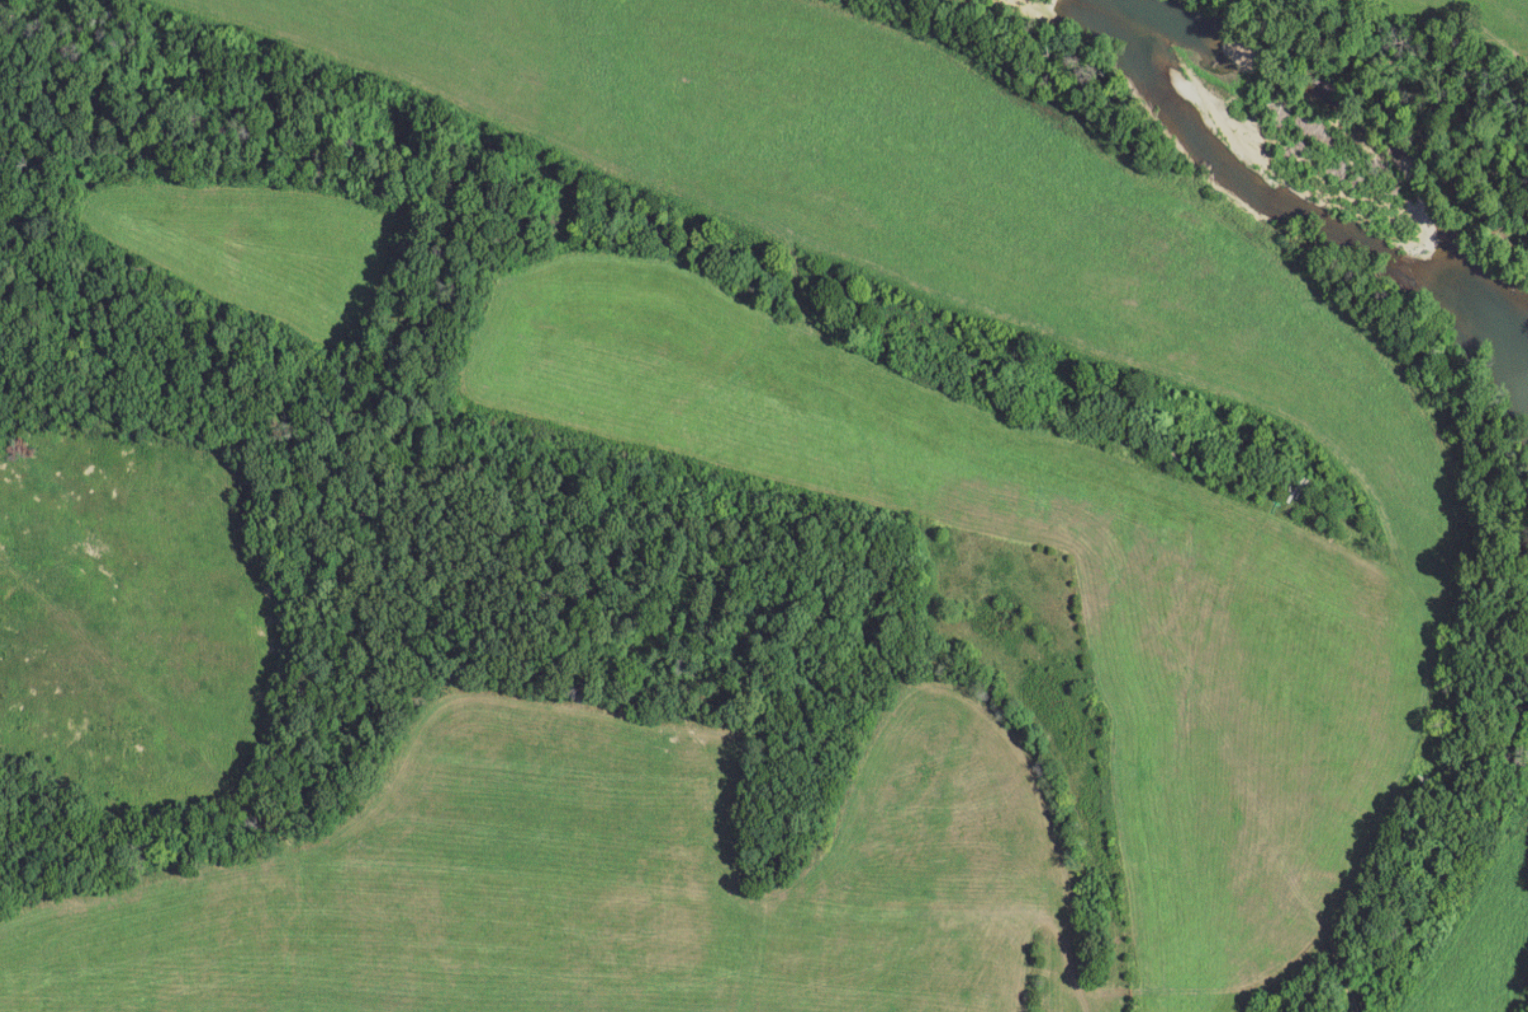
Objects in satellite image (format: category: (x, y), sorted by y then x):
river: (1299, 202)

